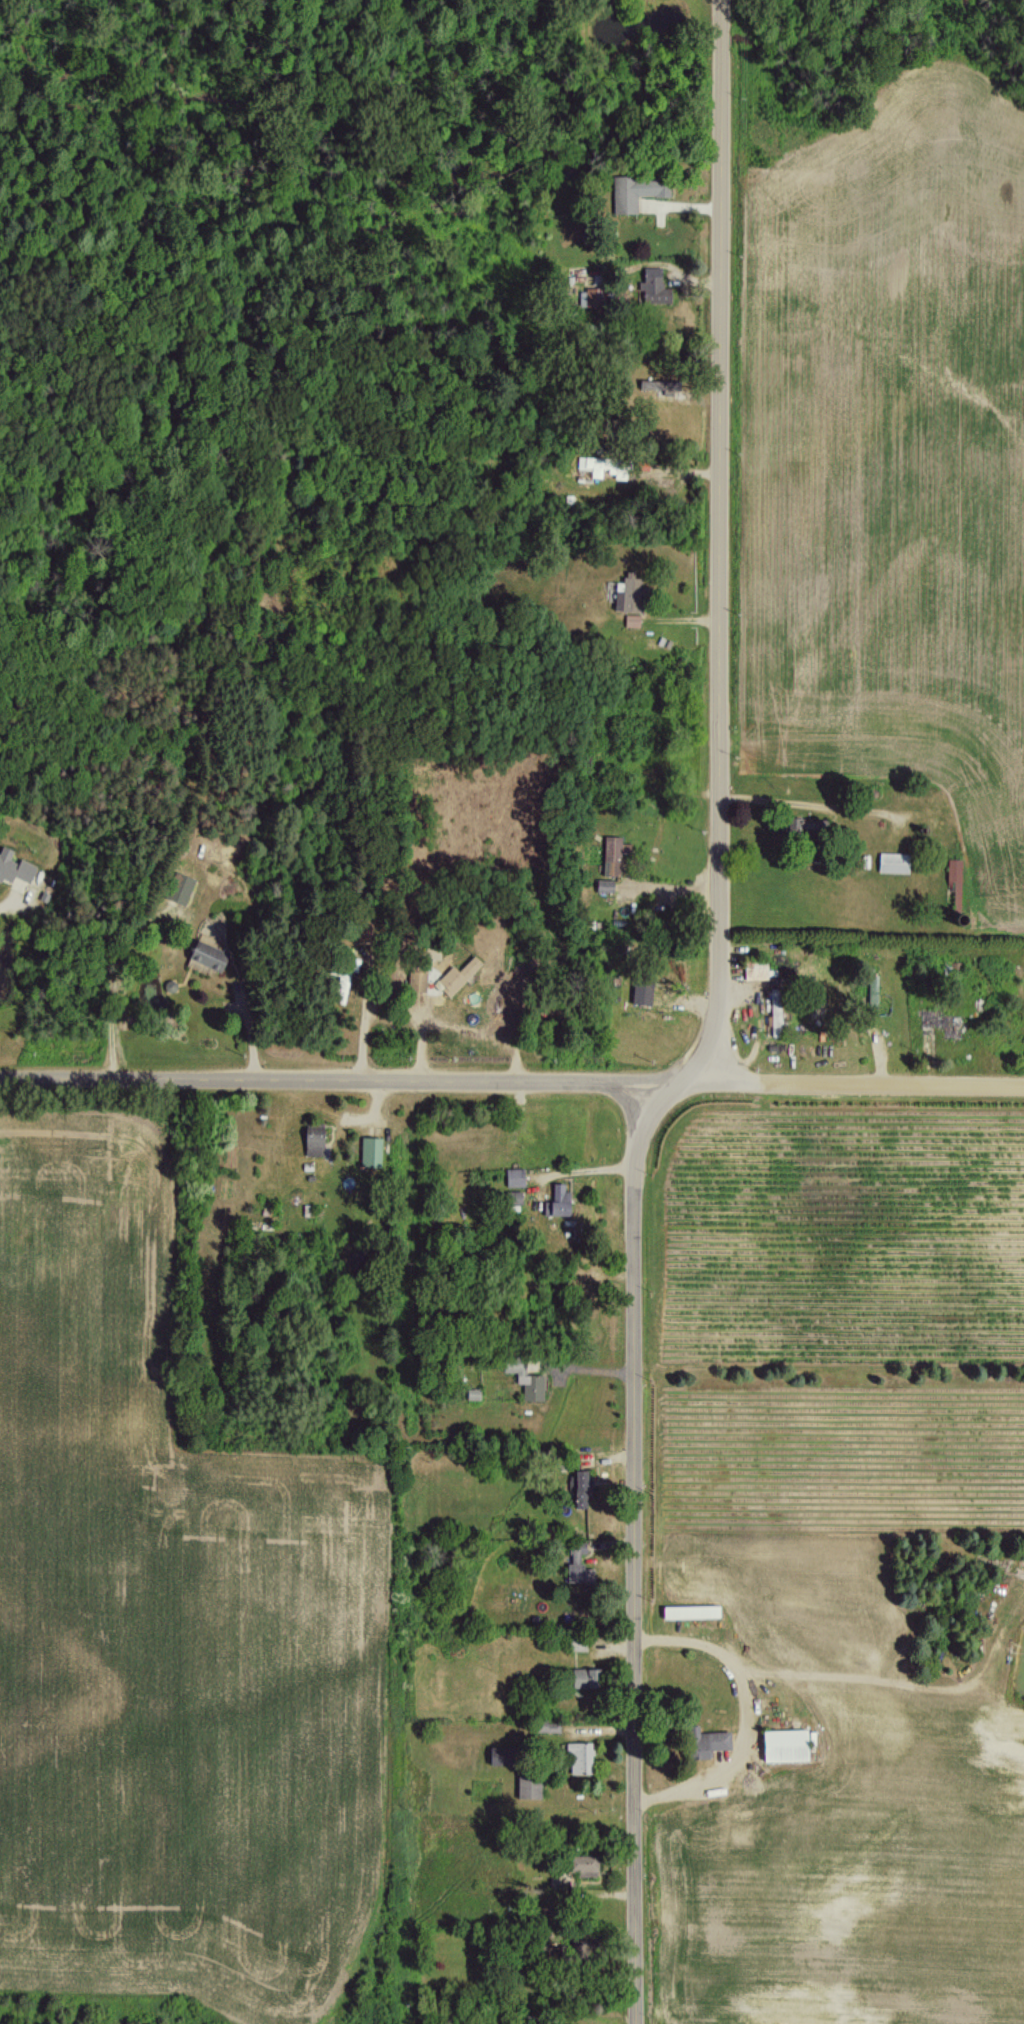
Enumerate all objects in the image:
building: (635, 191)
building: (653, 286)
building: (588, 296)
road: (718, 548)
building: (626, 592)
building: (631, 620)
building: (611, 854)
building: (891, 862)
building: (14, 867)
building: (954, 880)
building: (603, 884)
building: (177, 887)
road: (7, 892)
building: (205, 954)
building: (754, 968)
building: (456, 975)
building: (344, 979)
building: (416, 980)
building: (640, 989)
road: (111, 994)
building: (871, 995)
road: (362, 1016)
building: (774, 1020)
road: (248, 1029)
road: (511, 1084)
building: (311, 1141)
building: (370, 1151)
building: (513, 1177)
building: (512, 1197)
building: (555, 1201)
building: (525, 1380)
building: (579, 1488)
road: (633, 1546)
building: (576, 1563)
building: (688, 1611)
building: (582, 1676)
building: (543, 1725)
building: (702, 1741)
building: (785, 1743)
building: (493, 1754)
building: (578, 1757)
building: (527, 1786)
building: (581, 1864)

